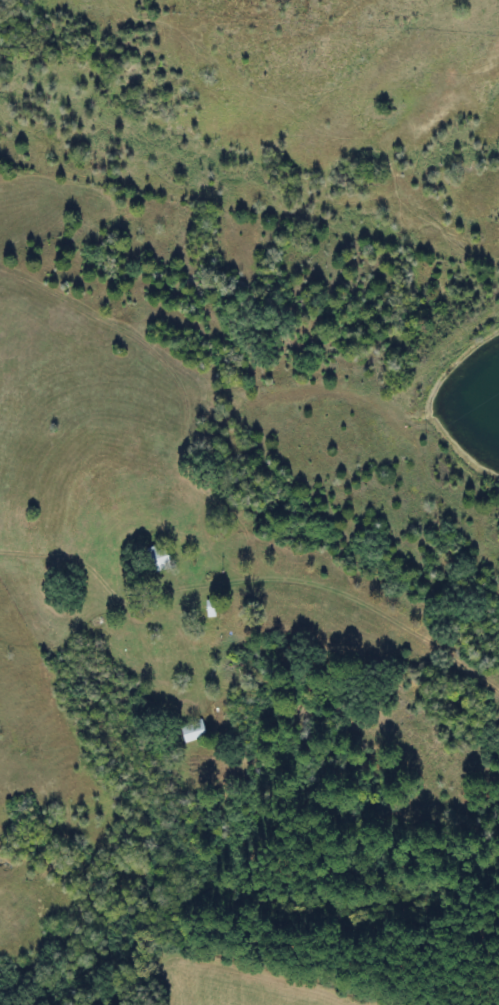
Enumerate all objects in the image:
building: (158, 558)
building: (192, 731)

